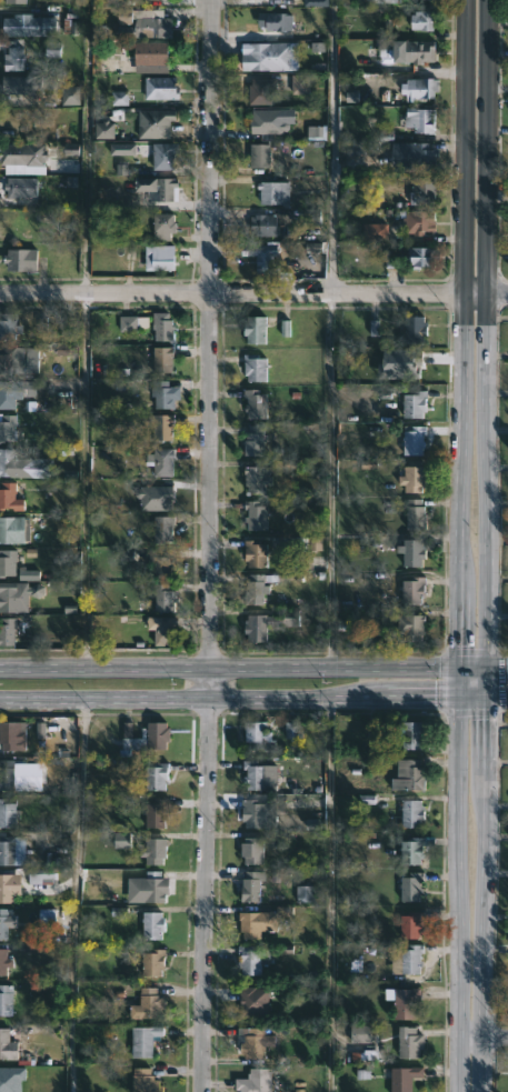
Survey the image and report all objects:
building: (417, 0)
building: (378, 1)
building: (18, 2)
building: (159, 2)
building: (418, 20)
building: (141, 22)
building: (276, 23)
building: (28, 24)
building: (416, 51)
building: (258, 54)
building: (149, 56)
building: (17, 59)
building: (24, 84)
building: (162, 88)
building: (418, 88)
building: (258, 91)
building: (417, 119)
building: (157, 123)
road: (86, 147)
road: (331, 147)
building: (257, 154)
building: (167, 156)
building: (22, 158)
building: (421, 158)
building: (26, 189)
building: (162, 189)
building: (271, 192)
building: (421, 192)
building: (415, 221)
building: (262, 226)
building: (167, 227)
building: (260, 257)
building: (418, 258)
building: (24, 260)
building: (165, 260)
road: (253, 293)
building: (129, 325)
building: (10, 327)
building: (166, 327)
building: (251, 329)
building: (412, 329)
road: (460, 333)
road: (484, 348)
building: (166, 358)
building: (12, 361)
building: (251, 368)
building: (162, 393)
building: (8, 395)
building: (253, 403)
building: (410, 403)
building: (161, 425)
building: (10, 429)
building: (252, 440)
building: (411, 441)
building: (8, 461)
building: (163, 461)
building: (253, 479)
building: (409, 479)
road: (86, 480)
road: (329, 480)
building: (11, 498)
building: (415, 512)
building: (253, 515)
building: (167, 529)
building: (13, 530)
road: (208, 545)
building: (252, 553)
building: (408, 554)
building: (7, 562)
building: (163, 568)
building: (255, 588)
building: (410, 590)
building: (17, 594)
building: (165, 599)
building: (265, 624)
building: (408, 629)
building: (162, 630)
building: (6, 631)
road: (469, 649)
road: (227, 667)
traffic signals: (455, 667)
road: (481, 667)
traffic signals: (485, 667)
road: (442, 680)
road: (499, 680)
road: (192, 695)
road: (435, 695)
traffic signals: (455, 695)
traffic signals: (485, 697)
road: (496, 697)
road: (470, 712)
building: (257, 733)
building: (10, 735)
building: (408, 735)
building: (143, 738)
building: (6, 774)
building: (250, 774)
building: (408, 774)
building: (155, 775)
building: (8, 812)
building: (155, 812)
building: (249, 812)
building: (409, 814)
building: (6, 850)
building: (251, 850)
building: (411, 850)
building: (152, 851)
road: (454, 879)
building: (250, 885)
building: (7, 886)
building: (147, 888)
building: (409, 888)
road: (74, 893)
road: (330, 893)
road: (481, 894)
building: (261, 921)
building: (3, 923)
building: (151, 924)
building: (408, 924)
building: (251, 959)
building: (406, 960)
building: (4, 962)
building: (151, 962)
building: (6, 1000)
building: (400, 1001)
building: (242, 1002)
building: (256, 1003)
building: (151, 1004)
building: (360, 1033)
road: (482, 1039)
building: (143, 1040)
building: (251, 1042)
building: (409, 1043)
building: (7, 1045)
building: (404, 1078)
building: (145, 1080)
building: (255, 1081)

